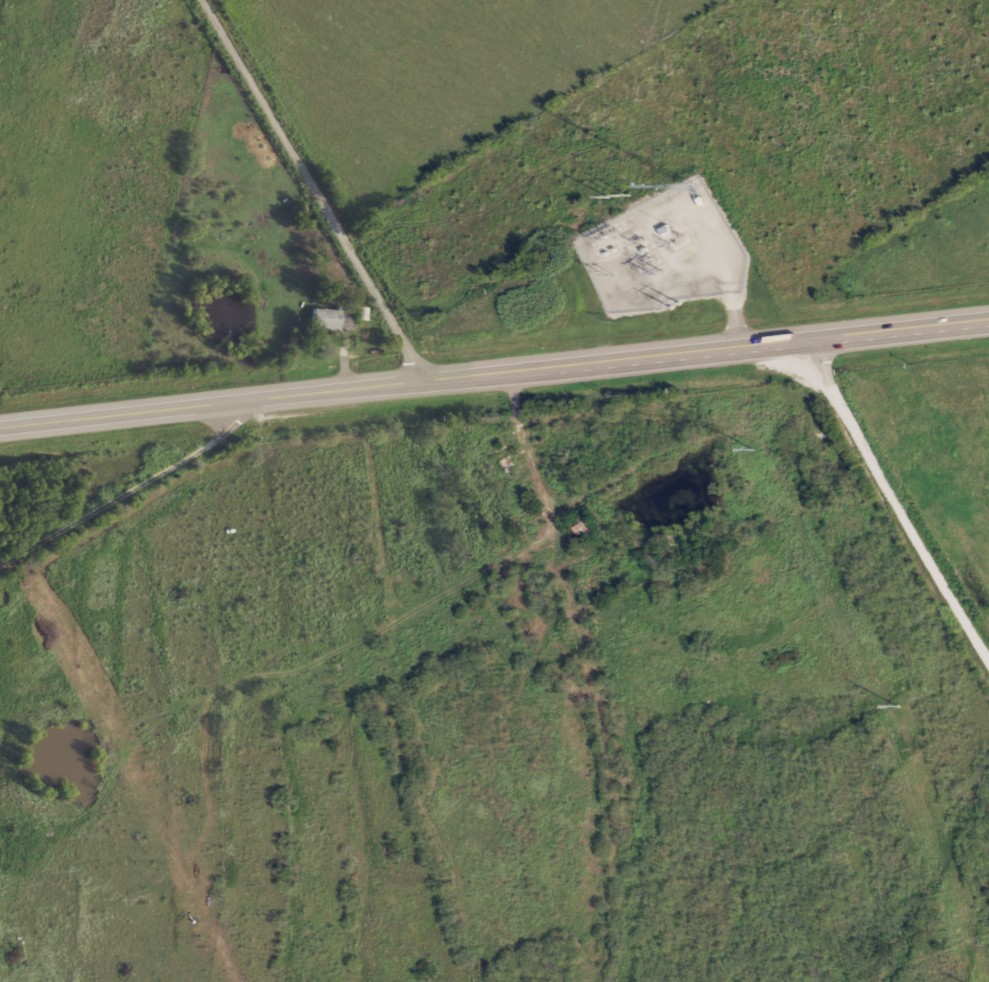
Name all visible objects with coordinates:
road: (323, 193)
power tower: (619, 196)
power substation: (665, 249)
power tower: (657, 273)
power tower: (676, 303)
building: (360, 314)
road: (495, 376)
power tower: (754, 448)
road: (138, 491)
road: (894, 491)
power tower: (898, 703)

